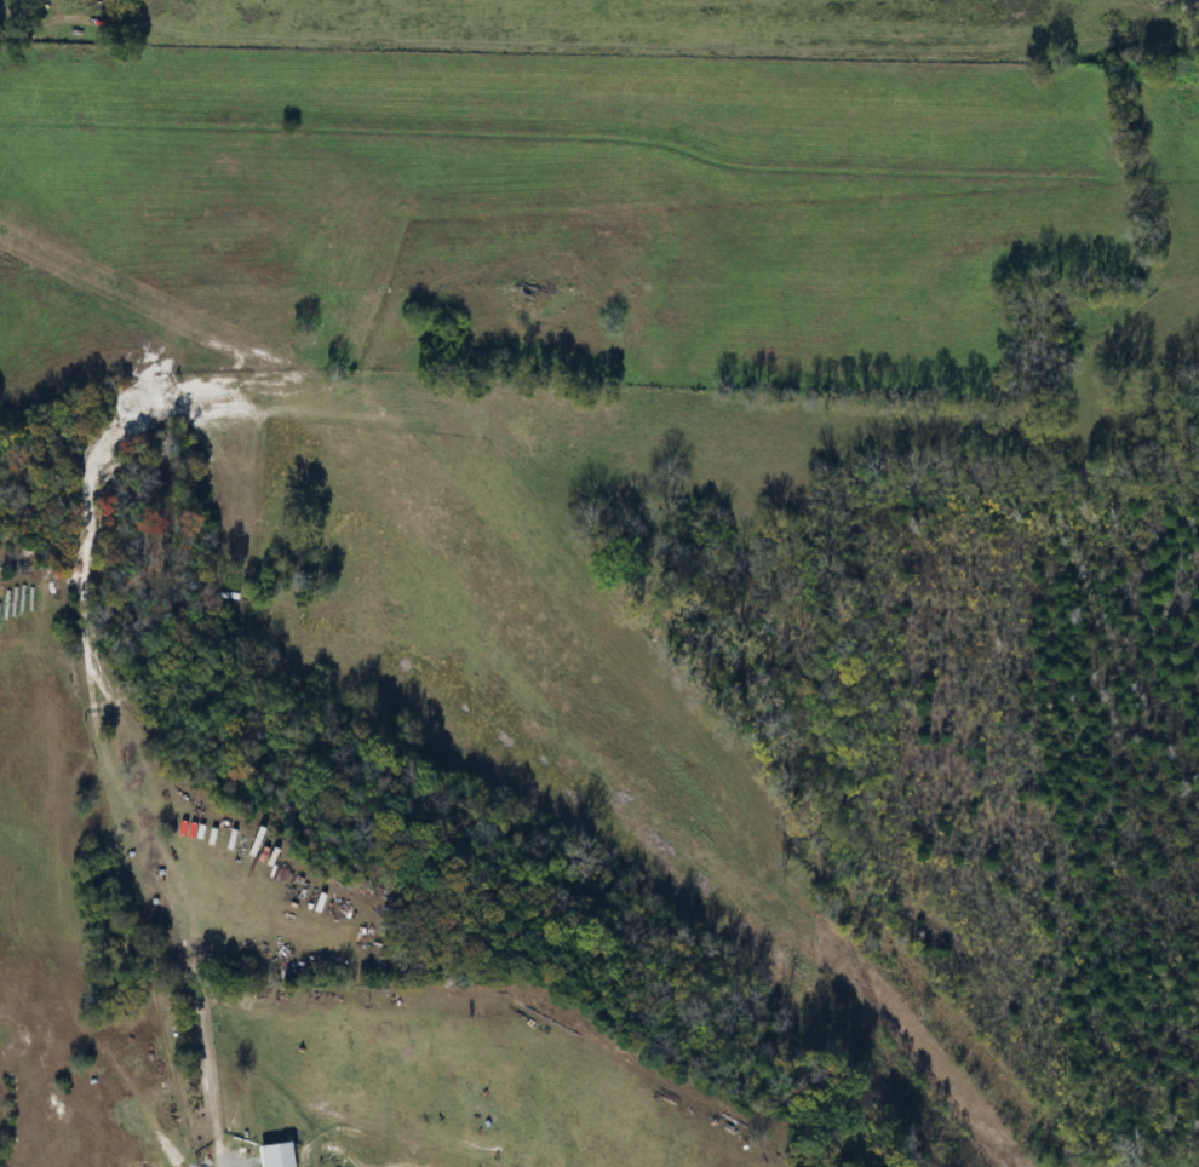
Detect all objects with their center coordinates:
road: (7, 29)
building: (281, 1156)

